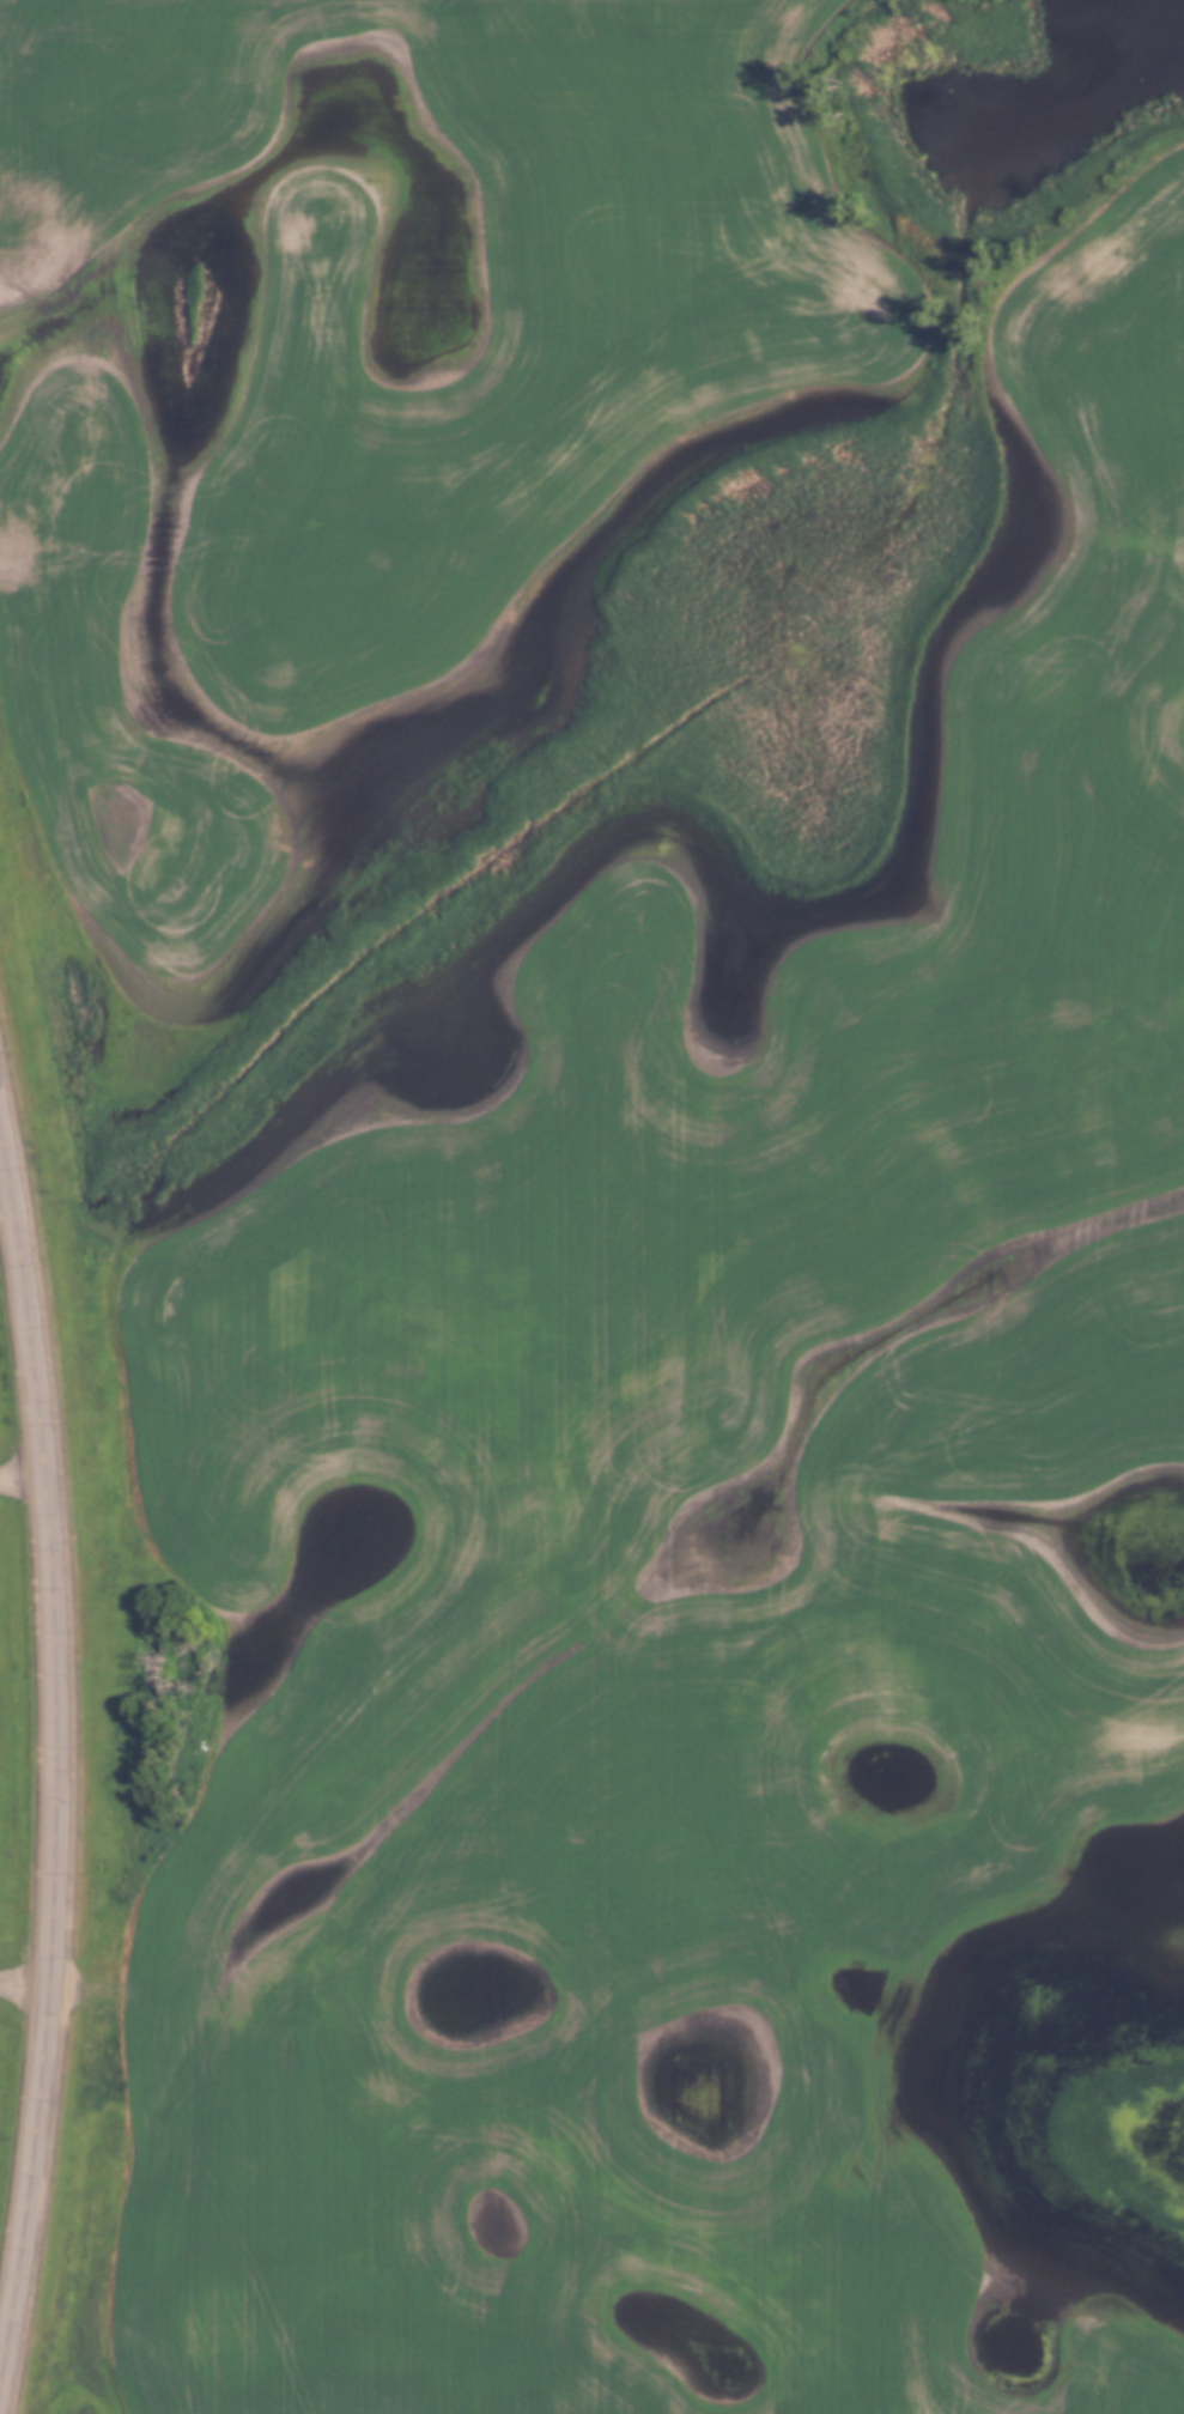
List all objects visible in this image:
road: (25, 1479)
road: (61, 1757)
road: (28, 1987)

